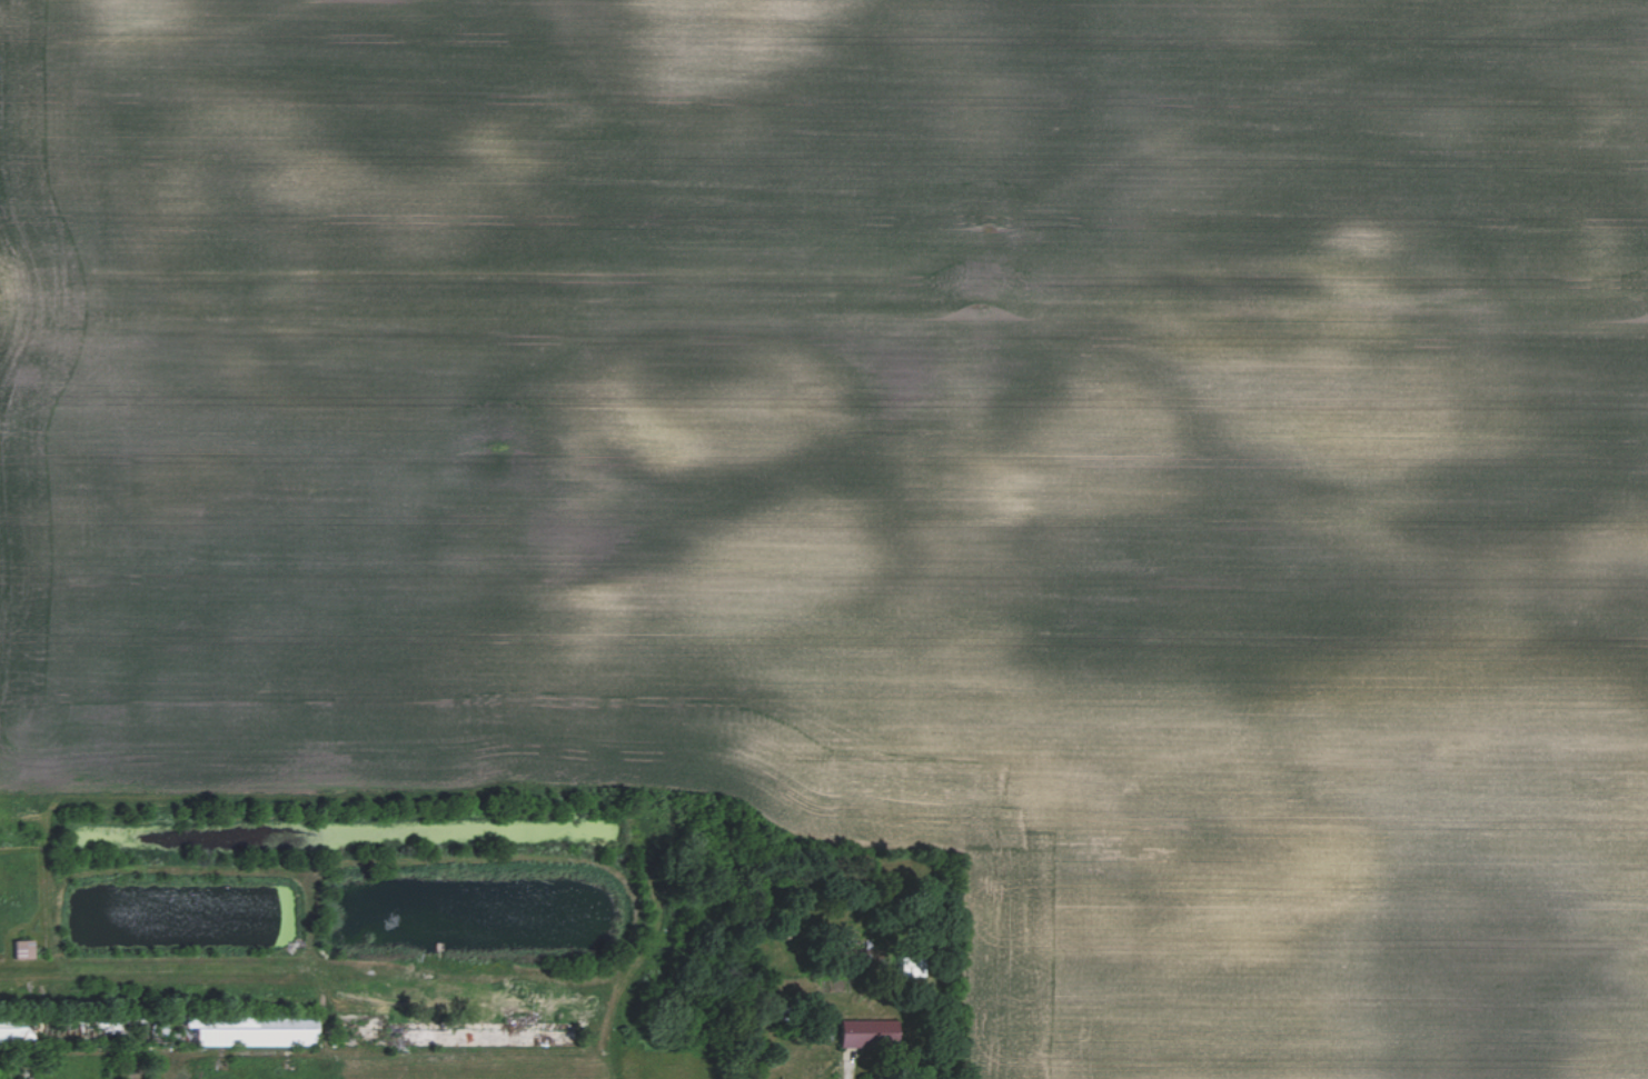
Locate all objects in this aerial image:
building: (22, 948)
building: (865, 1032)
building: (13, 1033)
road: (841, 1067)

